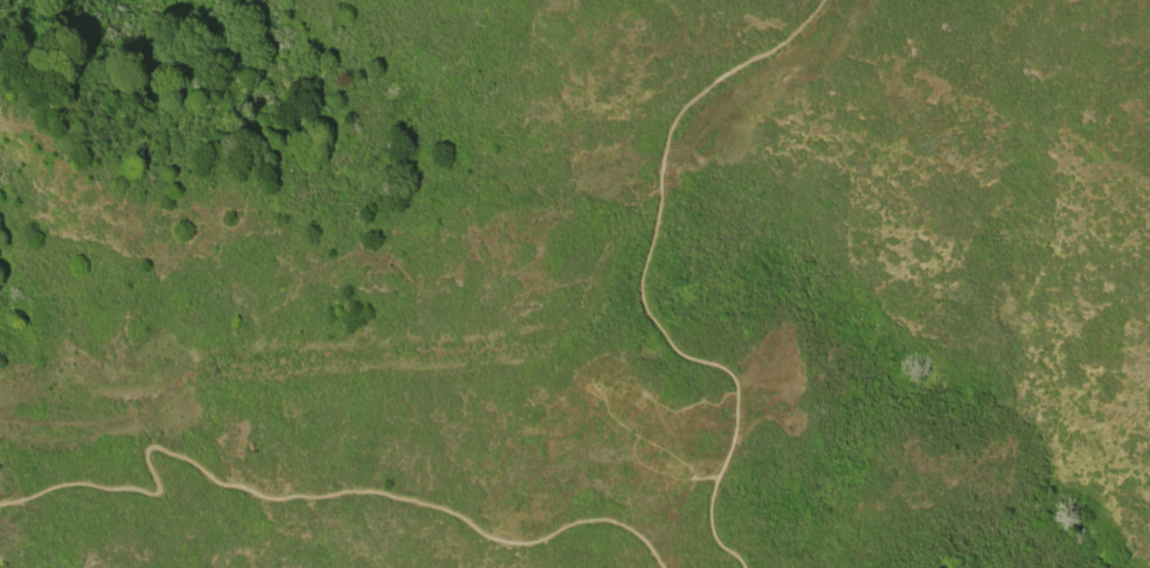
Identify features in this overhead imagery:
road: (646, 277)
road: (309, 497)

